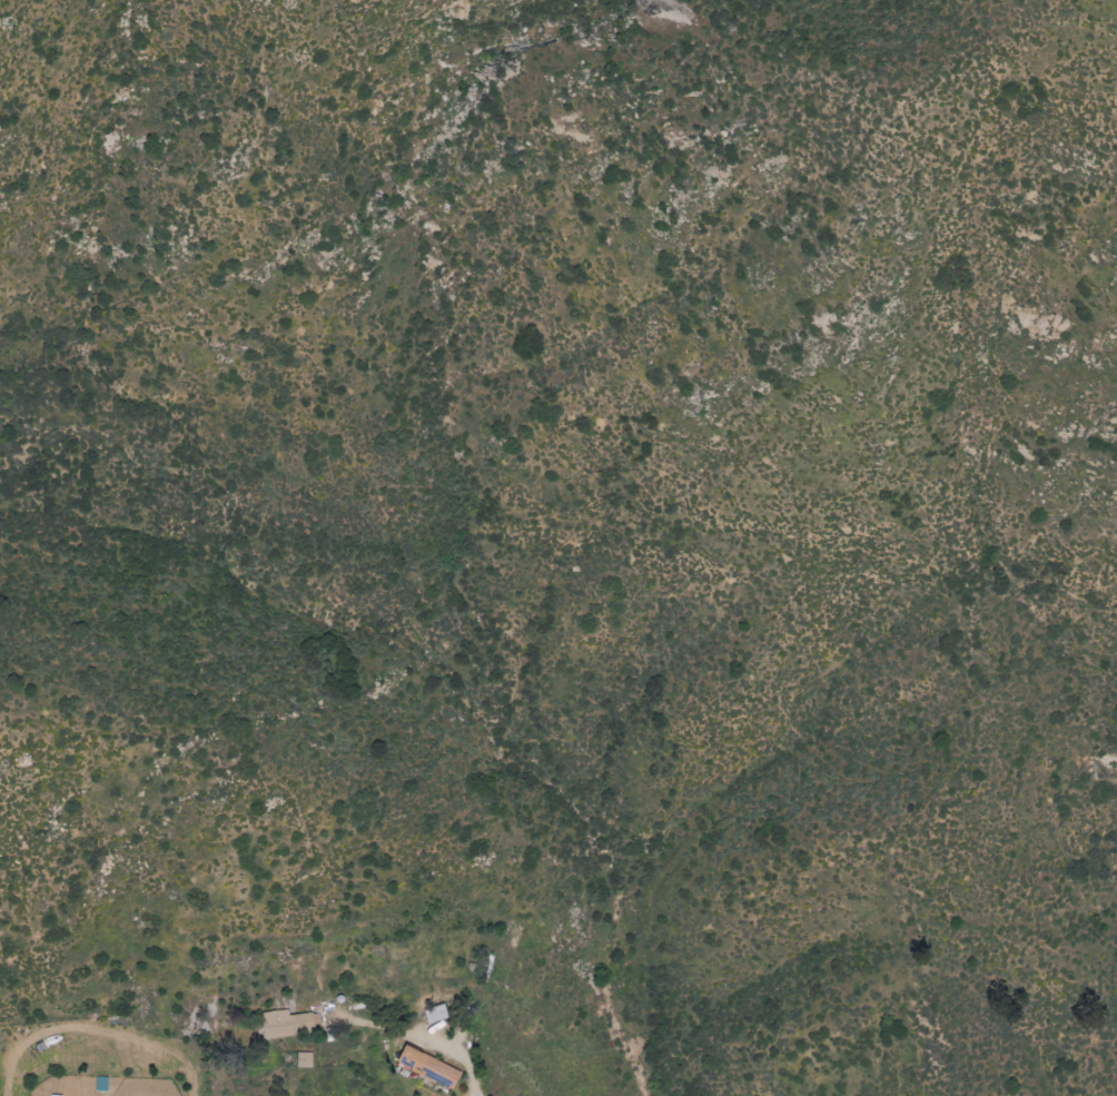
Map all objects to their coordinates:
building: (434, 1015)
building: (289, 1025)
building: (427, 1068)
road: (478, 1076)

